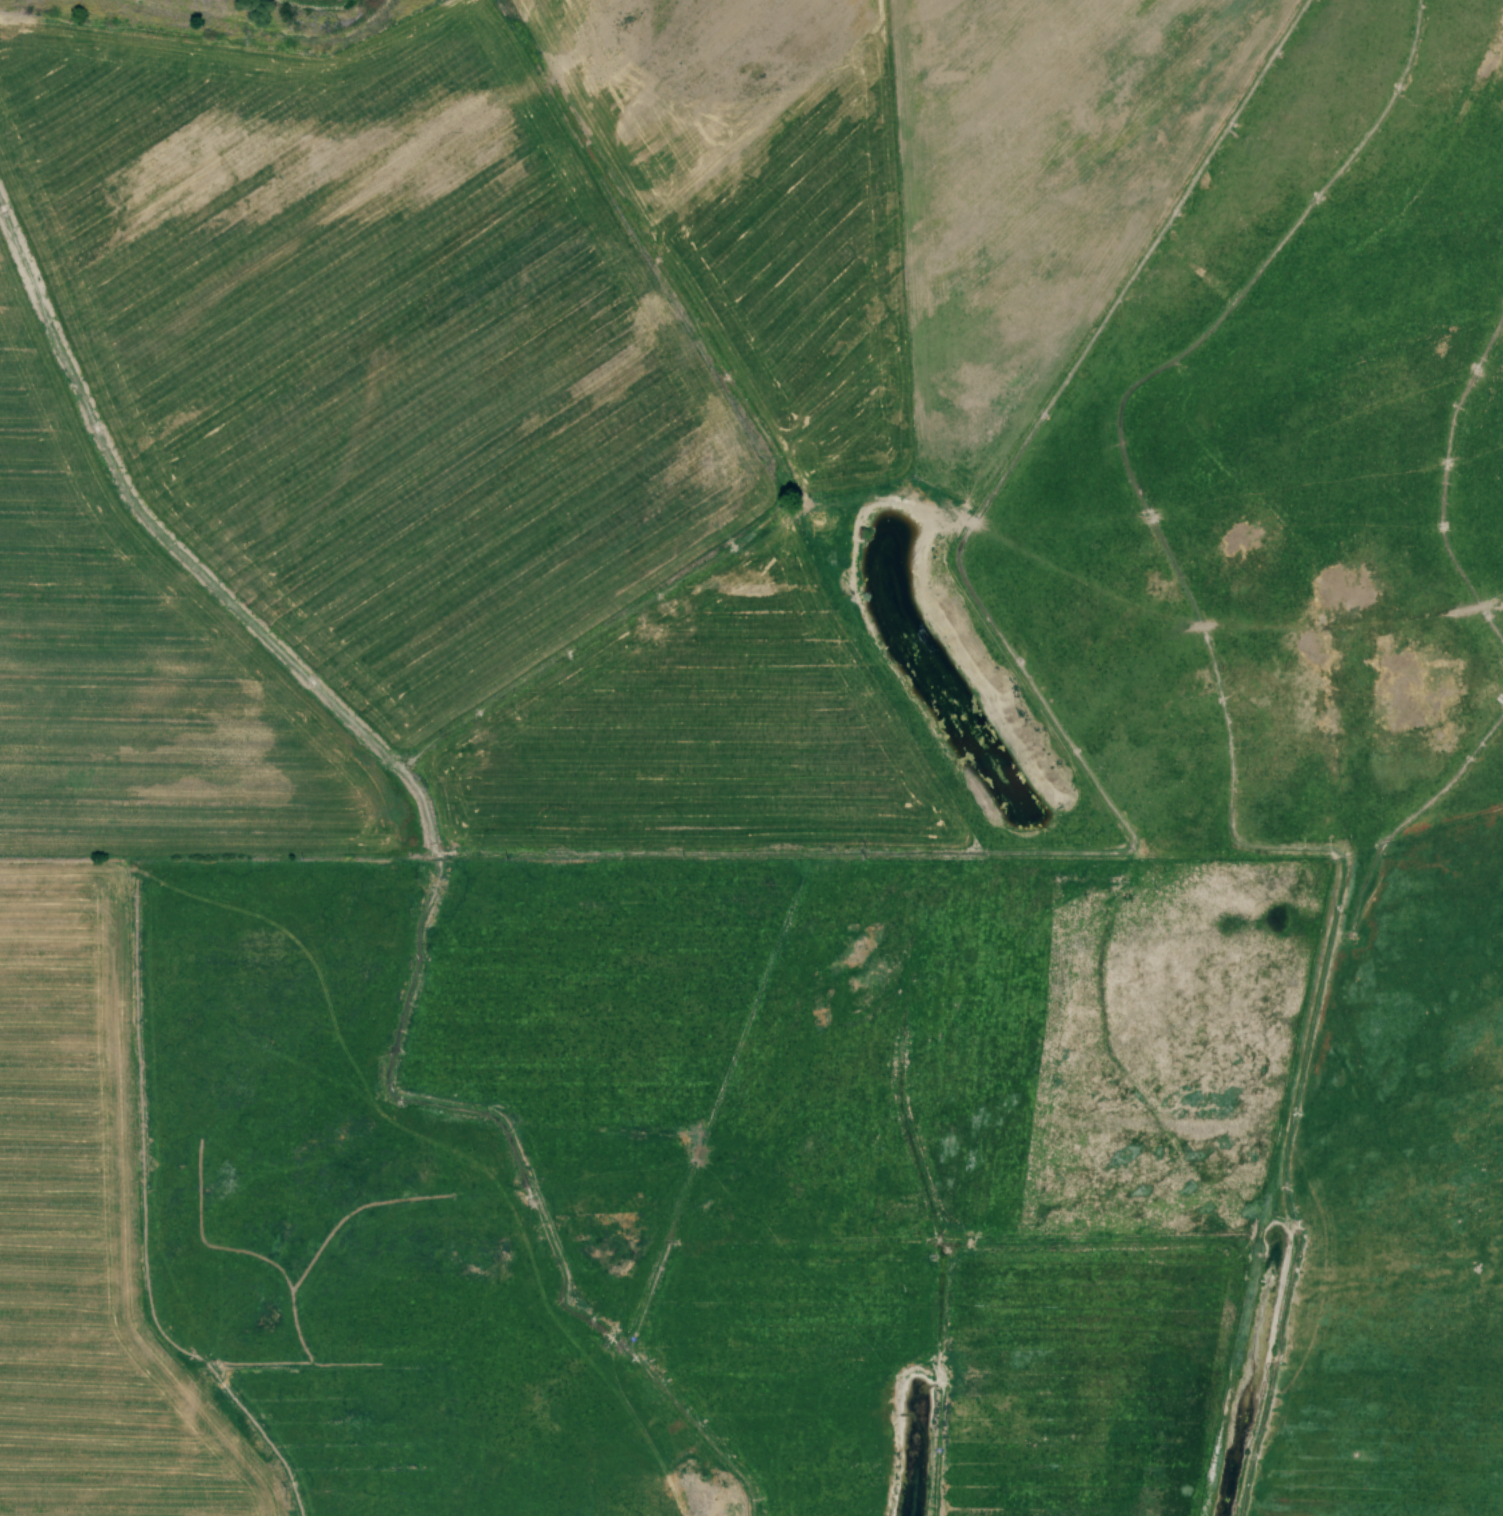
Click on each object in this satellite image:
wastewater plant: (934, 658)
wastewater plant: (1235, 1364)
wastewater plant: (909, 1449)

